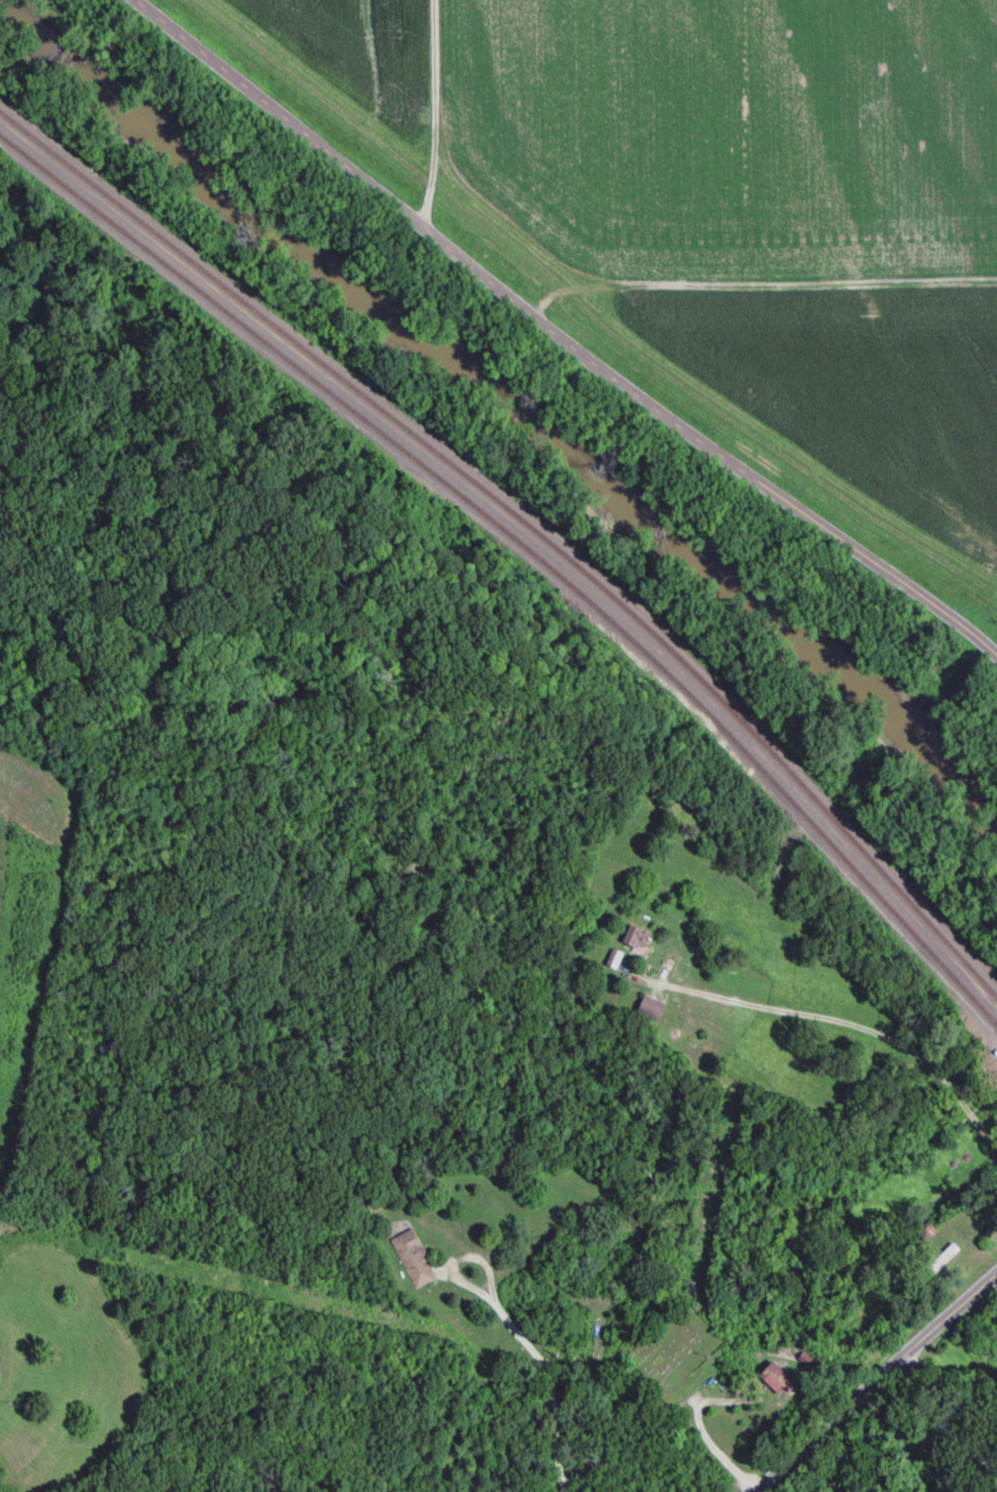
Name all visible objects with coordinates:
crop: (365, 50)
crop: (736, 134)
road: (559, 338)
crop: (863, 391)
river: (509, 392)
railway: (525, 529)
railway: (528, 550)
building: (641, 940)
building: (618, 961)
building: (654, 1011)
building: (415, 1261)
road: (828, 1371)
building: (743, 1374)
building: (787, 1380)

